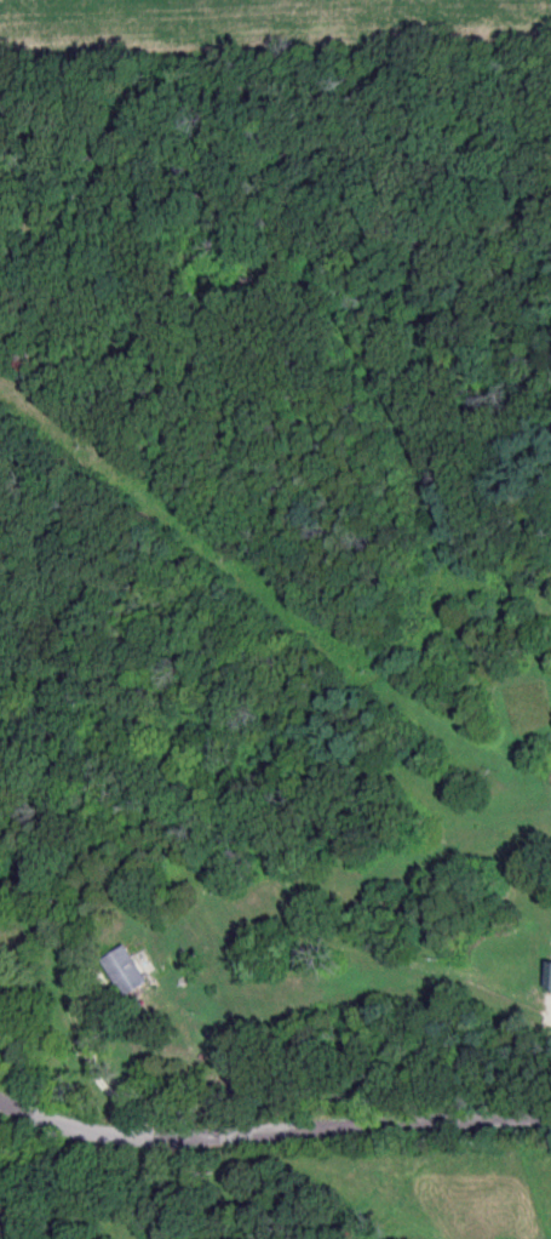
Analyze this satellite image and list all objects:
building: (126, 973)
road: (107, 1068)
road: (270, 1129)

